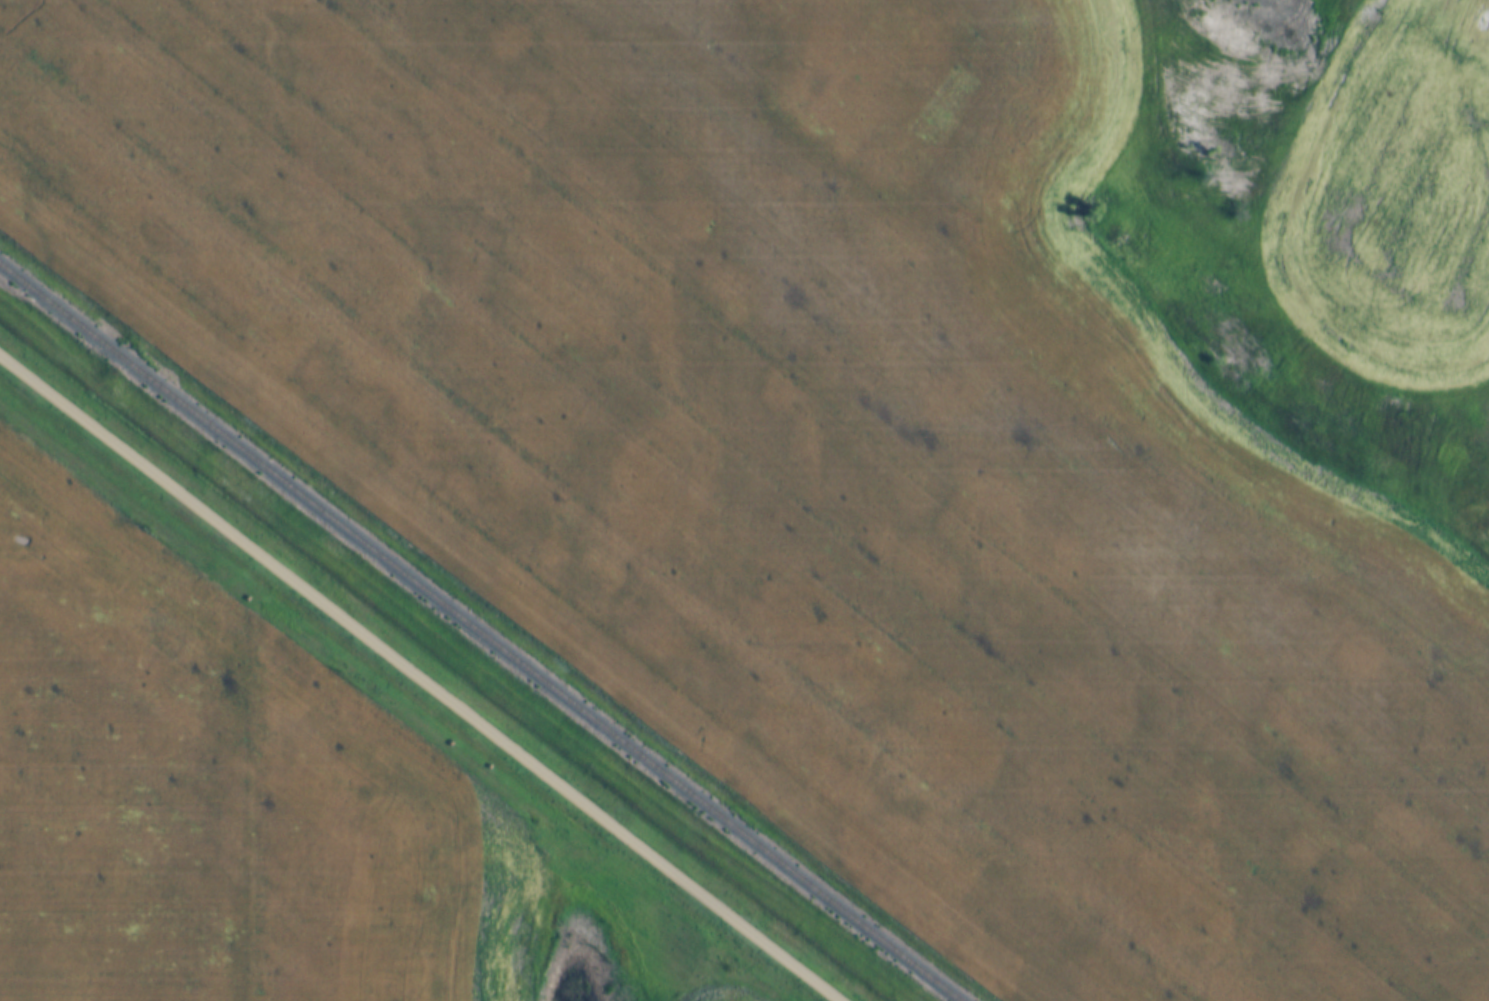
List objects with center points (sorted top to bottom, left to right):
railway: (478, 634)
road: (419, 678)

